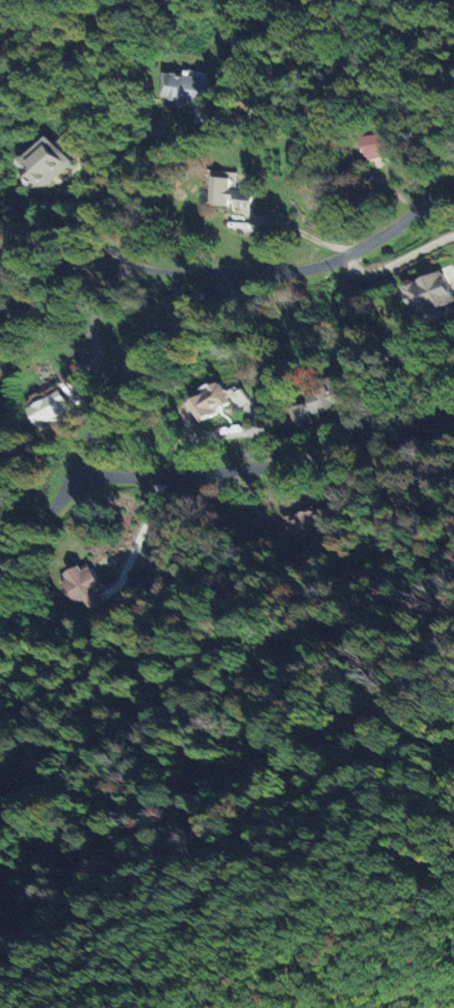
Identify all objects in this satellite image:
road: (302, 35)
building: (181, 90)
building: (375, 146)
building: (41, 163)
building: (225, 194)
road: (97, 217)
road: (302, 233)
road: (397, 261)
road: (181, 269)
building: (424, 293)
road: (92, 317)
building: (236, 396)
building: (206, 401)
building: (315, 403)
building: (43, 408)
road: (99, 428)
road: (44, 515)
building: (311, 526)
road: (137, 537)
building: (150, 576)
building: (79, 586)

